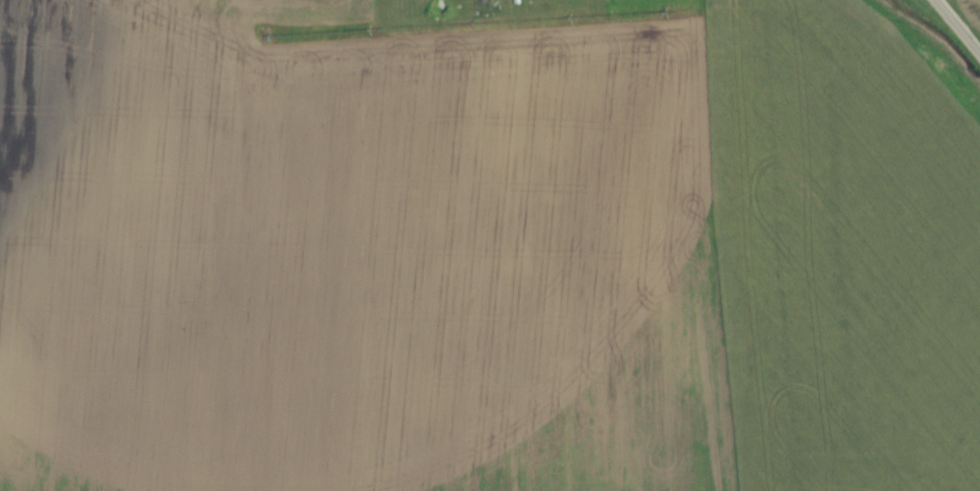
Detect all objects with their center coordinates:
building: (566, 0)
road: (954, 29)

